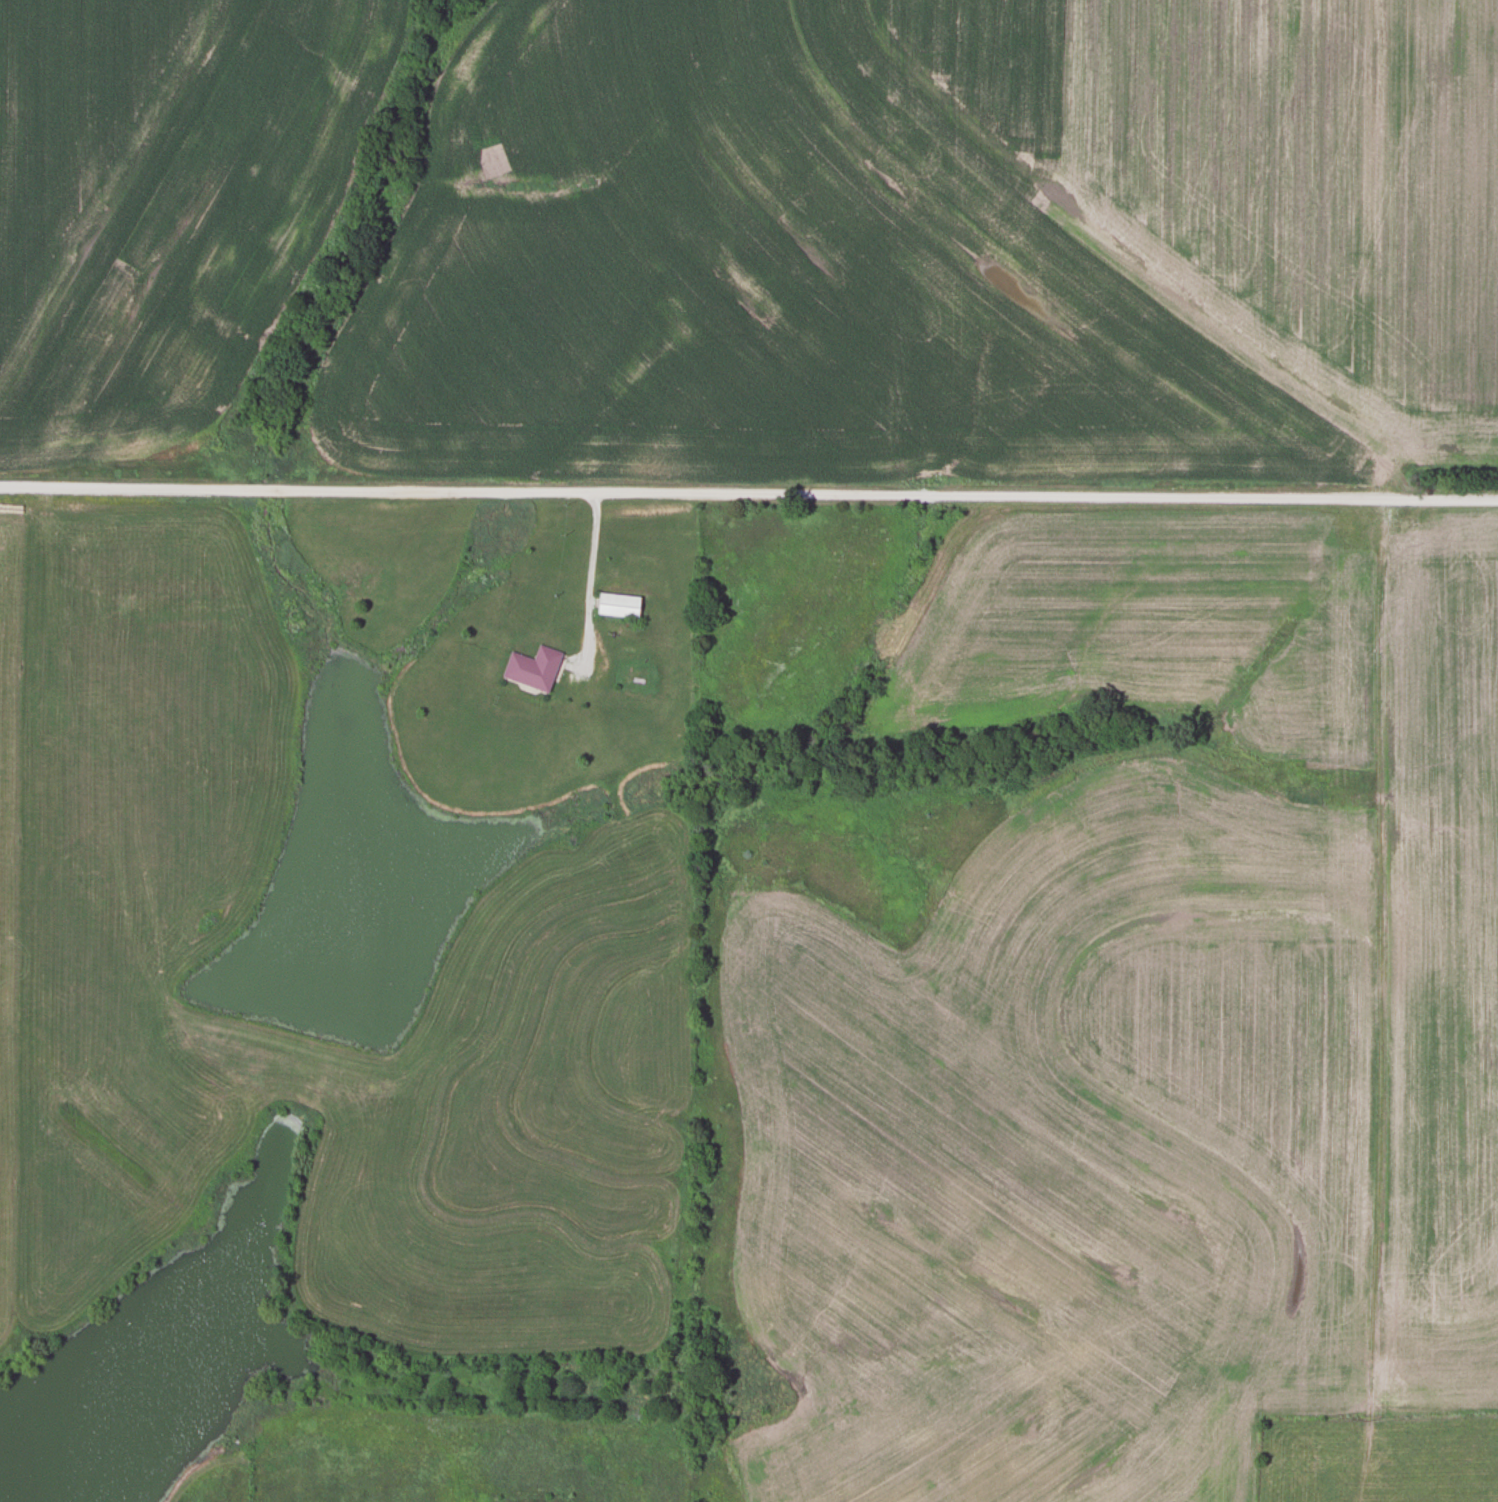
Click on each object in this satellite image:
crop: (164, 206)
crop: (939, 247)
road: (748, 492)
building: (617, 605)
building: (532, 668)
crop: (1442, 963)
crop: (1052, 1159)

